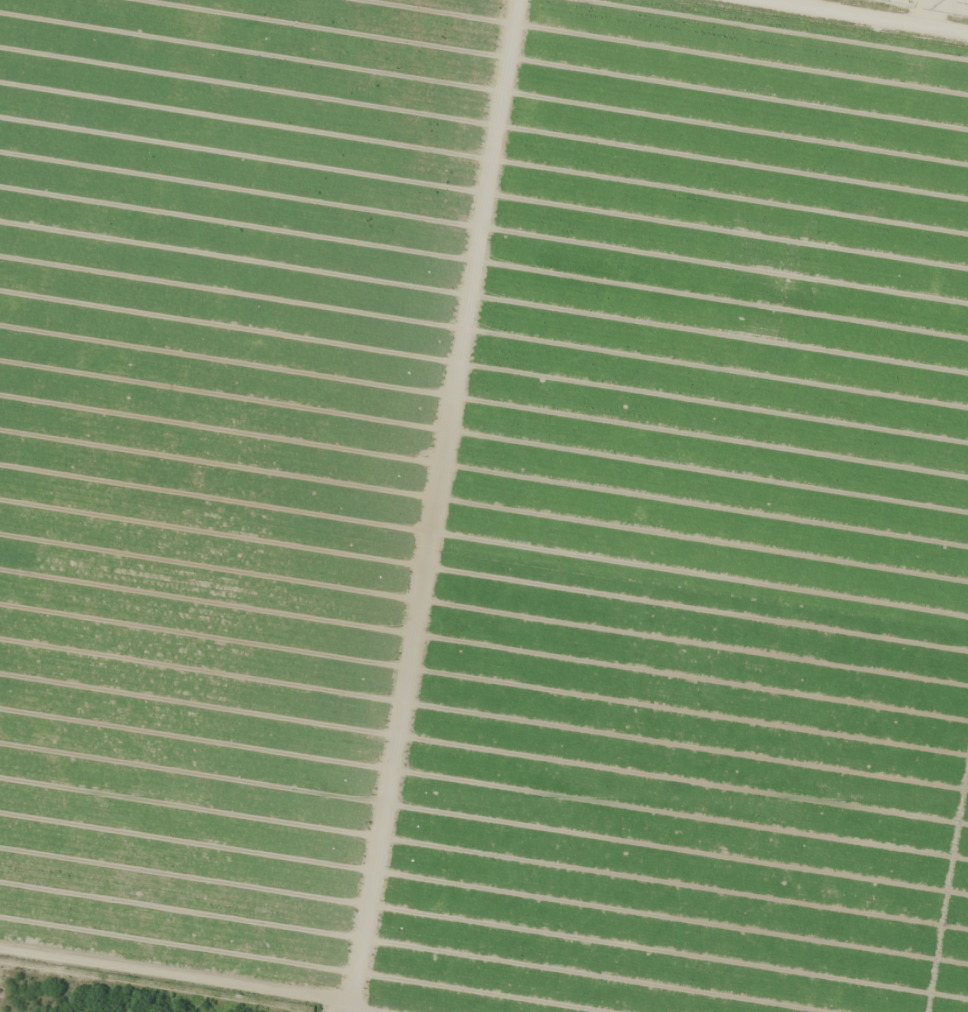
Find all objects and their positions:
road: (866, 16)

